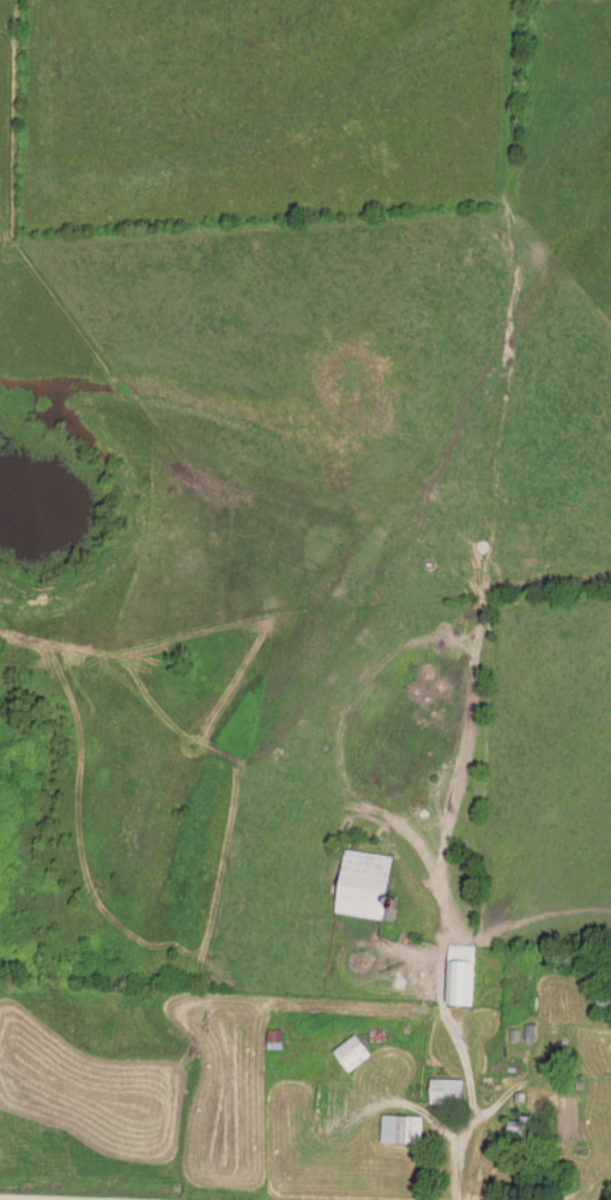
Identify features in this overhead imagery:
building: (370, 880)
building: (465, 970)
road: (448, 1009)
building: (452, 1087)
building: (407, 1126)
road: (59, 1198)

